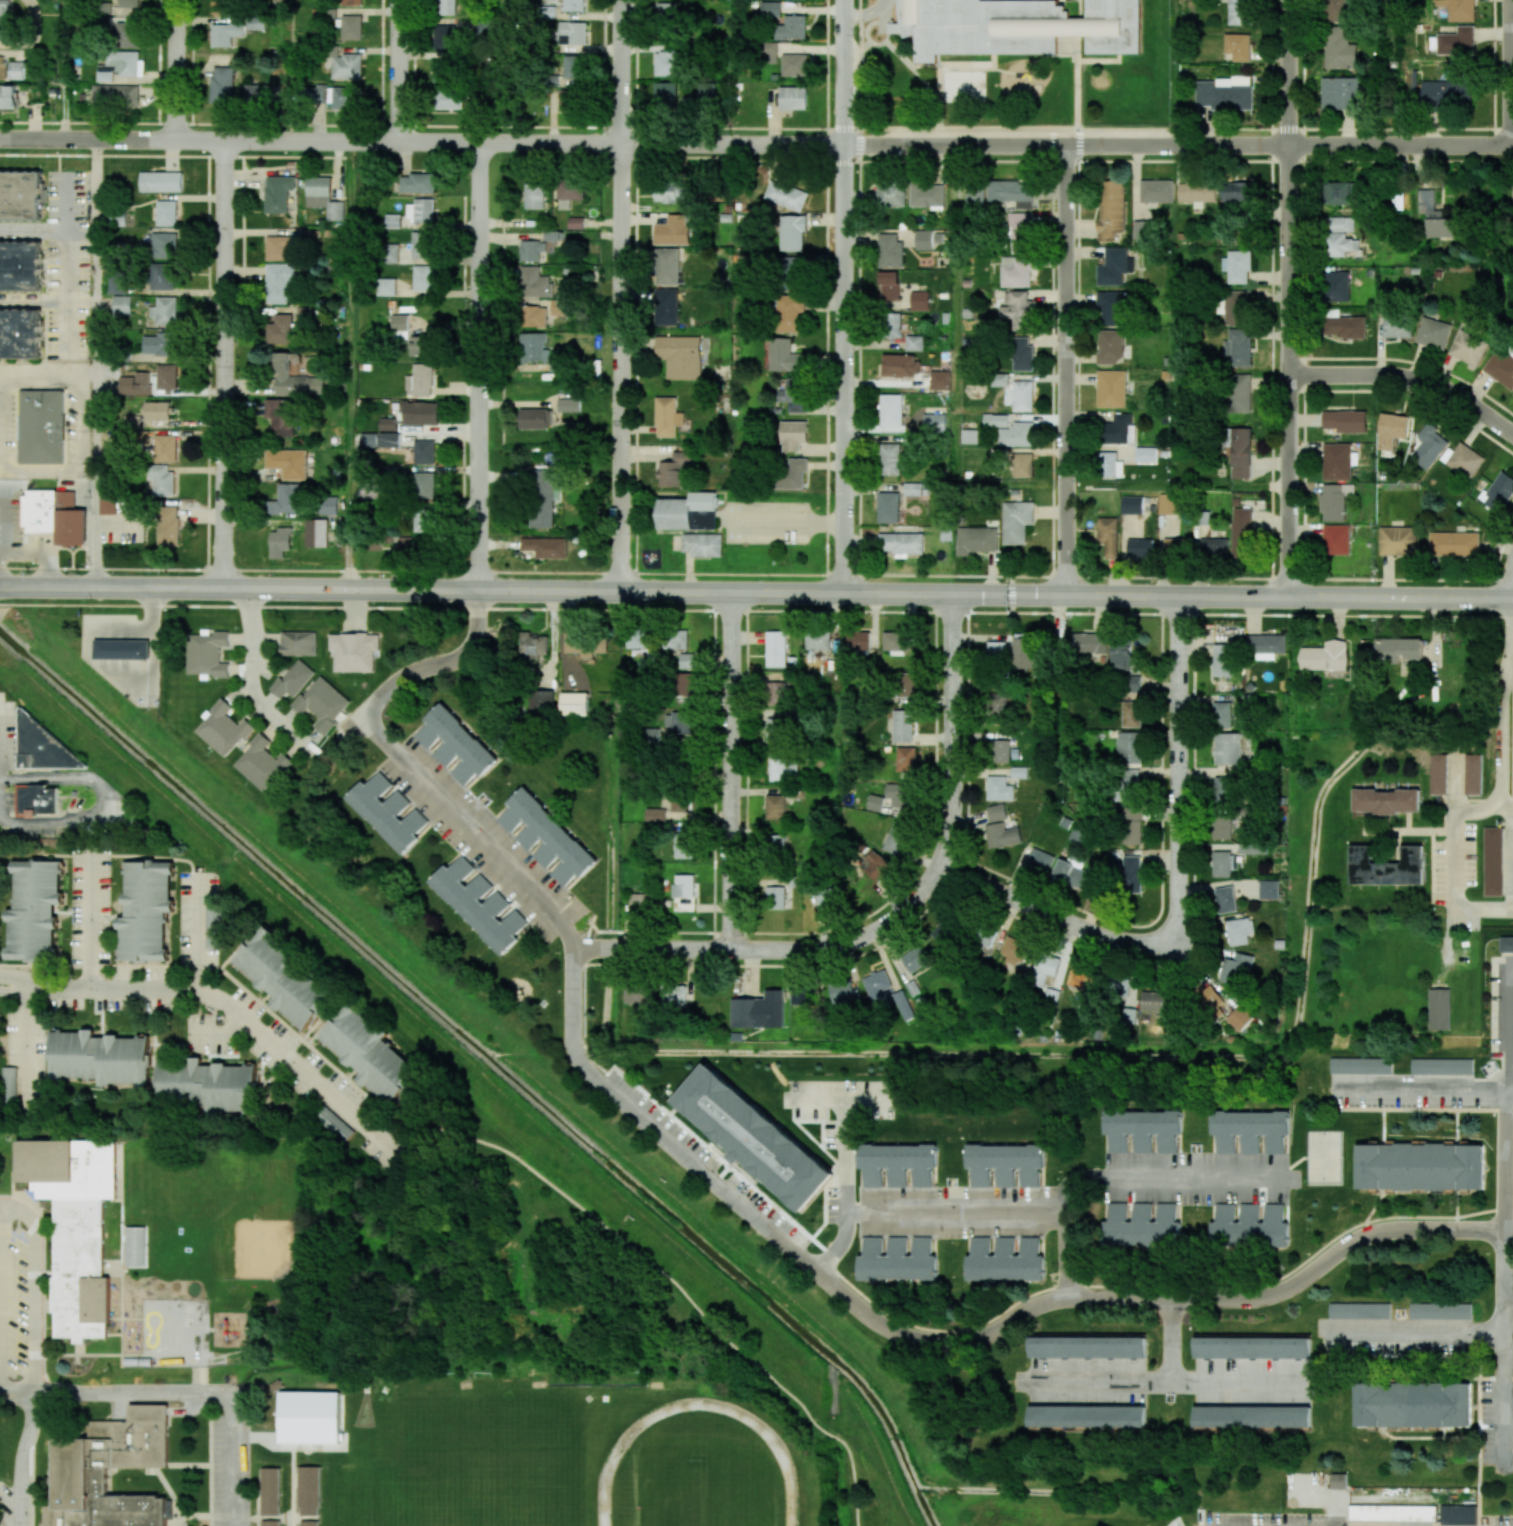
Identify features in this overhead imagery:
building: (351, 2)
building: (128, 3)
building: (573, 5)
building: (219, 7)
building: (447, 7)
building: (1458, 9)
building: (1337, 10)
building: (666, 12)
building: (1238, 12)
road: (868, 15)
building: (4, 19)
building: (255, 24)
building: (351, 27)
building: (1015, 27)
building: (791, 28)
building: (225, 33)
building: (572, 33)
building: (124, 34)
building: (444, 37)
building: (1456, 41)
building: (1237, 46)
building: (1340, 49)
building: (769, 52)
building: (667, 63)
building: (794, 65)
building: (121, 66)
building: (347, 66)
building: (574, 66)
building: (2, 67)
road: (63, 69)
road: (176, 69)
building: (16, 70)
road: (399, 70)
building: (441, 71)
road: (1511, 72)
building: (221, 85)
building: (1224, 93)
building: (1340, 93)
building: (1446, 93)
building: (116, 94)
building: (260, 94)
building: (319, 94)
building: (665, 94)
building: (706, 95)
building: (8, 96)
building: (343, 97)
building: (447, 98)
building: (793, 98)
building: (569, 99)
road: (756, 141)
building: (161, 181)
building: (417, 183)
building: (671, 191)
building: (1156, 191)
building: (1237, 191)
building: (569, 192)
building: (1012, 192)
building: (278, 193)
building: (976, 193)
building: (1197, 193)
building: (1342, 193)
building: (20, 194)
building: (891, 194)
building: (926, 194)
building: (533, 195)
building: (786, 195)
building: (324, 197)
building: (1397, 201)
road: (72, 206)
building: (1111, 209)
building: (420, 210)
building: (166, 212)
building: (1434, 215)
building: (117, 219)
building: (393, 220)
building: (575, 222)
building: (1341, 224)
building: (673, 230)
building: (1140, 230)
building: (792, 232)
building: (1020, 232)
road: (71, 233)
road: (84, 234)
building: (923, 239)
building: (1340, 244)
building: (164, 245)
building: (422, 245)
building: (279, 246)
building: (531, 250)
building: (890, 251)
building: (390, 253)
building: (20, 265)
building: (666, 266)
building: (1114, 266)
building: (1238, 266)
building: (794, 270)
building: (1016, 271)
building: (162, 276)
building: (423, 277)
building: (279, 282)
building: (533, 282)
building: (117, 283)
building: (889, 285)
building: (387, 286)
building: (1336, 286)
road: (622, 296)
road: (845, 297)
road: (1290, 298)
building: (919, 300)
road: (36, 304)
building: (121, 305)
building: (557, 307)
building: (666, 307)
building: (1111, 307)
building: (1237, 307)
building: (1018, 310)
building: (164, 311)
building: (790, 314)
building: (534, 316)
building: (399, 322)
building: (893, 325)
building: (1344, 325)
building: (1397, 327)
road: (72, 329)
building: (279, 329)
building: (20, 333)
building: (1433, 333)
building: (158, 343)
building: (914, 343)
building: (421, 346)
building: (1110, 346)
building: (533, 347)
building: (1238, 347)
building: (1468, 347)
building: (1022, 354)
building: (679, 356)
building: (785, 356)
road: (97, 362)
road: (223, 363)
road: (478, 365)
building: (900, 365)
building: (1500, 367)
road: (1067, 369)
building: (166, 376)
road: (45, 377)
building: (293, 378)
road: (1408, 379)
building: (420, 380)
building: (940, 380)
building: (135, 384)
building: (1111, 388)
building: (793, 393)
building: (1238, 393)
building: (1019, 395)
building: (568, 404)
building: (891, 410)
building: (158, 411)
building: (420, 413)
building: (280, 416)
building: (667, 417)
building: (535, 418)
building: (996, 420)
building: (1345, 420)
building: (132, 421)
building: (934, 422)
building: (388, 424)
building: (41, 426)
building: (1118, 429)
building: (1392, 429)
building: (1017, 434)
building: (793, 435)
building: (969, 436)
building: (390, 439)
building: (368, 440)
building: (166, 448)
building: (424, 451)
building: (1238, 451)
building: (1146, 455)
building: (889, 459)
building: (1462, 459)
building: (1337, 461)
building: (287, 462)
building: (1022, 465)
building: (1109, 465)
building: (674, 469)
building: (792, 474)
building: (161, 479)
building: (424, 484)
building: (911, 489)
building: (370, 490)
building: (1499, 491)
building: (543, 497)
building: (285, 499)
building: (1334, 501)
building: (1131, 504)
building: (1168, 504)
building: (108, 506)
building: (328, 507)
building: (888, 507)
building: (688, 512)
building: (55, 515)
building: (424, 519)
building: (1017, 521)
road: (787, 522)
road: (3, 524)
building: (168, 525)
building: (316, 532)
building: (1241, 532)
building: (1108, 535)
building: (976, 539)
building: (1336, 539)
building: (1397, 540)
building: (280, 542)
building: (901, 542)
building: (1454, 543)
building: (703, 544)
building: (1176, 545)
building: (546, 547)
building: (1139, 548)
building: (1214, 548)
road: (38, 552)
road: (524, 571)
road: (1262, 577)
road: (756, 593)
traffic signals: (1011, 595)
road: (756, 611)
building: (638, 639)
building: (675, 639)
building: (817, 640)
building: (894, 640)
building: (857, 641)
building: (1090, 642)
building: (298, 643)
building: (585, 644)
building: (533, 645)
building: (1266, 645)
building: (775, 648)
building: (121, 649)
building: (1396, 649)
building: (997, 650)
building: (1026, 650)
building: (353, 651)
building: (207, 654)
building: (1122, 656)
building: (1324, 656)
building: (686, 660)
building: (1222, 660)
road: (445, 670)
road: (1509, 670)
road: (253, 677)
building: (293, 679)
building: (1132, 682)
building: (905, 684)
building: (685, 685)
building: (776, 692)
building: (322, 702)
building: (540, 702)
building: (998, 703)
road: (1501, 703)
building: (574, 704)
building: (1131, 714)
building: (1222, 714)
building: (678, 722)
building: (902, 726)
building: (223, 728)
building: (775, 729)
road: (953, 731)
parking lot: (7, 734)
building: (455, 744)
building: (43, 746)
building: (1130, 746)
building: (1227, 748)
building: (1000, 751)
building: (905, 759)
building: (261, 763)
building: (783, 768)
road: (1179, 769)
building: (1018, 772)
building: (1438, 773)
building: (1473, 774)
building: (1128, 784)
building: (999, 788)
building: (1221, 788)
road: (102, 797)
building: (35, 799)
building: (891, 799)
building: (1386, 800)
building: (680, 805)
building: (775, 807)
parking lot: (7, 808)
road: (1511, 811)
building: (387, 812)
building: (996, 812)
building: (656, 814)
road: (731, 817)
building: (1131, 825)
road: (473, 827)
building: (1222, 827)
building: (1002, 835)
building: (546, 837)
building: (895, 838)
building: (775, 842)
building: (683, 845)
building: (1253, 848)
road: (120, 855)
building: (1039, 860)
building: (1493, 861)
building: (1222, 863)
building: (876, 866)
building: (1386, 866)
building: (1072, 874)
building: (1131, 874)
building: (1268, 889)
building: (683, 892)
building: (827, 896)
building: (775, 897)
building: (1225, 899)
building: (640, 902)
building: (479, 904)
parking lot: (90, 905)
building: (34, 909)
building: (145, 911)
road: (1471, 911)
road: (1055, 916)
road: (92, 918)
parking lot: (197, 918)
building: (213, 926)
building: (1239, 930)
road: (199, 932)
building: (986, 935)
building: (1506, 944)
building: (1014, 950)
road: (773, 951)
building: (913, 959)
building: (1233, 967)
road: (225, 972)
building: (1048, 973)
building: (283, 976)
road: (13, 977)
building: (1080, 978)
building: (878, 987)
road: (13, 990)
building: (844, 992)
building: (674, 993)
building: (1122, 993)
building: (640, 994)
building: (802, 995)
building: (1214, 1001)
parking lot: (110, 1002)
building: (1156, 1003)
building: (903, 1005)
building: (1439, 1009)
building: (759, 1010)
road: (101, 1012)
road: (237, 1014)
building: (1240, 1017)
road: (1510, 1025)
road: (216, 1033)
parking lot: (209, 1036)
road: (185, 1038)
road: (26, 1042)
road: (182, 1044)
parking lot: (26, 1048)
building: (369, 1053)
building: (99, 1056)
river: (490, 1060)
road: (152, 1061)
road: (153, 1064)
building: (1361, 1065)
building: (1442, 1066)
building: (9, 1082)
parking lot: (319, 1082)
building: (208, 1085)
road: (1423, 1087)
road: (840, 1099)
building: (333, 1122)
building: (1142, 1130)
building: (1250, 1131)
building: (754, 1138)
road: (842, 1158)
road: (1508, 1159)
building: (897, 1164)
building: (1005, 1164)
building: (1419, 1166)
road: (1122, 1179)
road: (28, 1199)
road: (953, 1218)
building: (1142, 1225)
building: (1249, 1225)
building: (75, 1229)
road: (121, 1231)
road: (835, 1249)
building: (897, 1259)
building: (1005, 1259)
road: (661, 1271)
road: (1510, 1275)
road: (32, 1289)
road: (1510, 1292)
parking lot: (20, 1294)
road: (43, 1296)
road: (1, 1298)
building: (1359, 1310)
building: (1440, 1310)
road: (125, 1318)
road: (121, 1326)
road: (1414, 1334)
road: (121, 1336)
road: (950, 1345)
building: (1087, 1347)
building: (1252, 1347)
road: (78, 1348)
road: (1176, 1348)
road: (1507, 1353)
road: (92, 1354)
road: (1510, 1362)
road: (1174, 1389)
road: (175, 1397)
building: (1412, 1405)
building: (309, 1416)
building: (1087, 1416)
building: (1252, 1416)
road: (31, 1452)
road: (22, 1461)
road: (209, 1461)
road: (189, 1464)
building: (111, 1465)
parking lot: (230, 1470)
track: (697, 1472)
building: (1338, 1481)
road: (292, 1483)
building: (309, 1489)
road: (169, 1491)
building: (270, 1491)
park: (698, 1493)
parking lot: (7, 1506)
building: (1392, 1513)
building: (1458, 1515)
road: (245, 1516)
road: (257, 1521)
building: (270, 1523)
building: (309, 1523)

